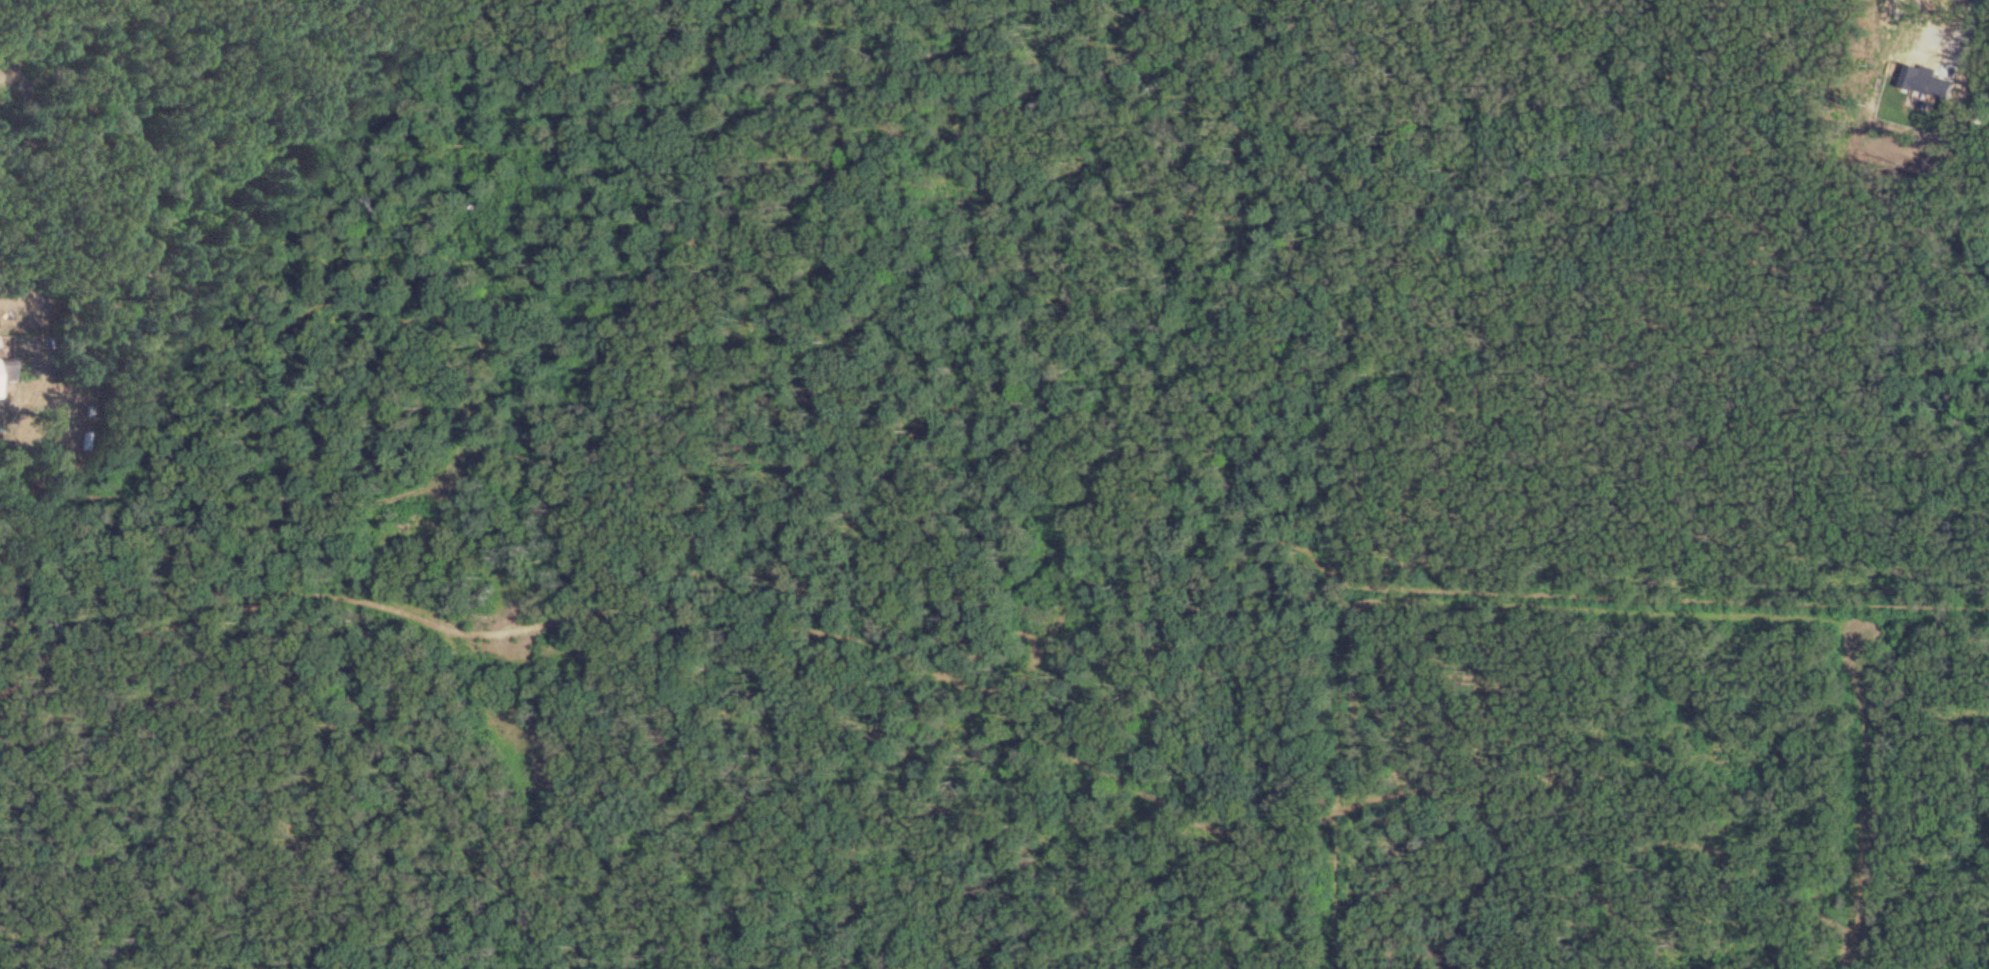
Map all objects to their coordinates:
building: (6, 371)
road: (62, 497)
road: (590, 600)

